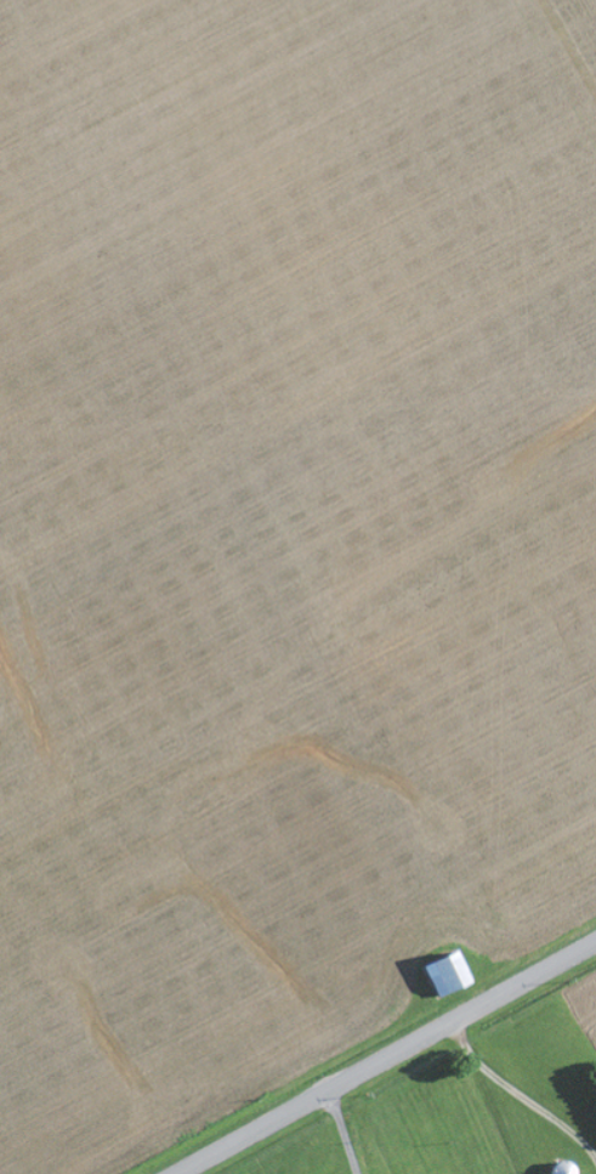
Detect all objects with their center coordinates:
road: (113, 898)
building: (453, 976)
road: (381, 1057)

